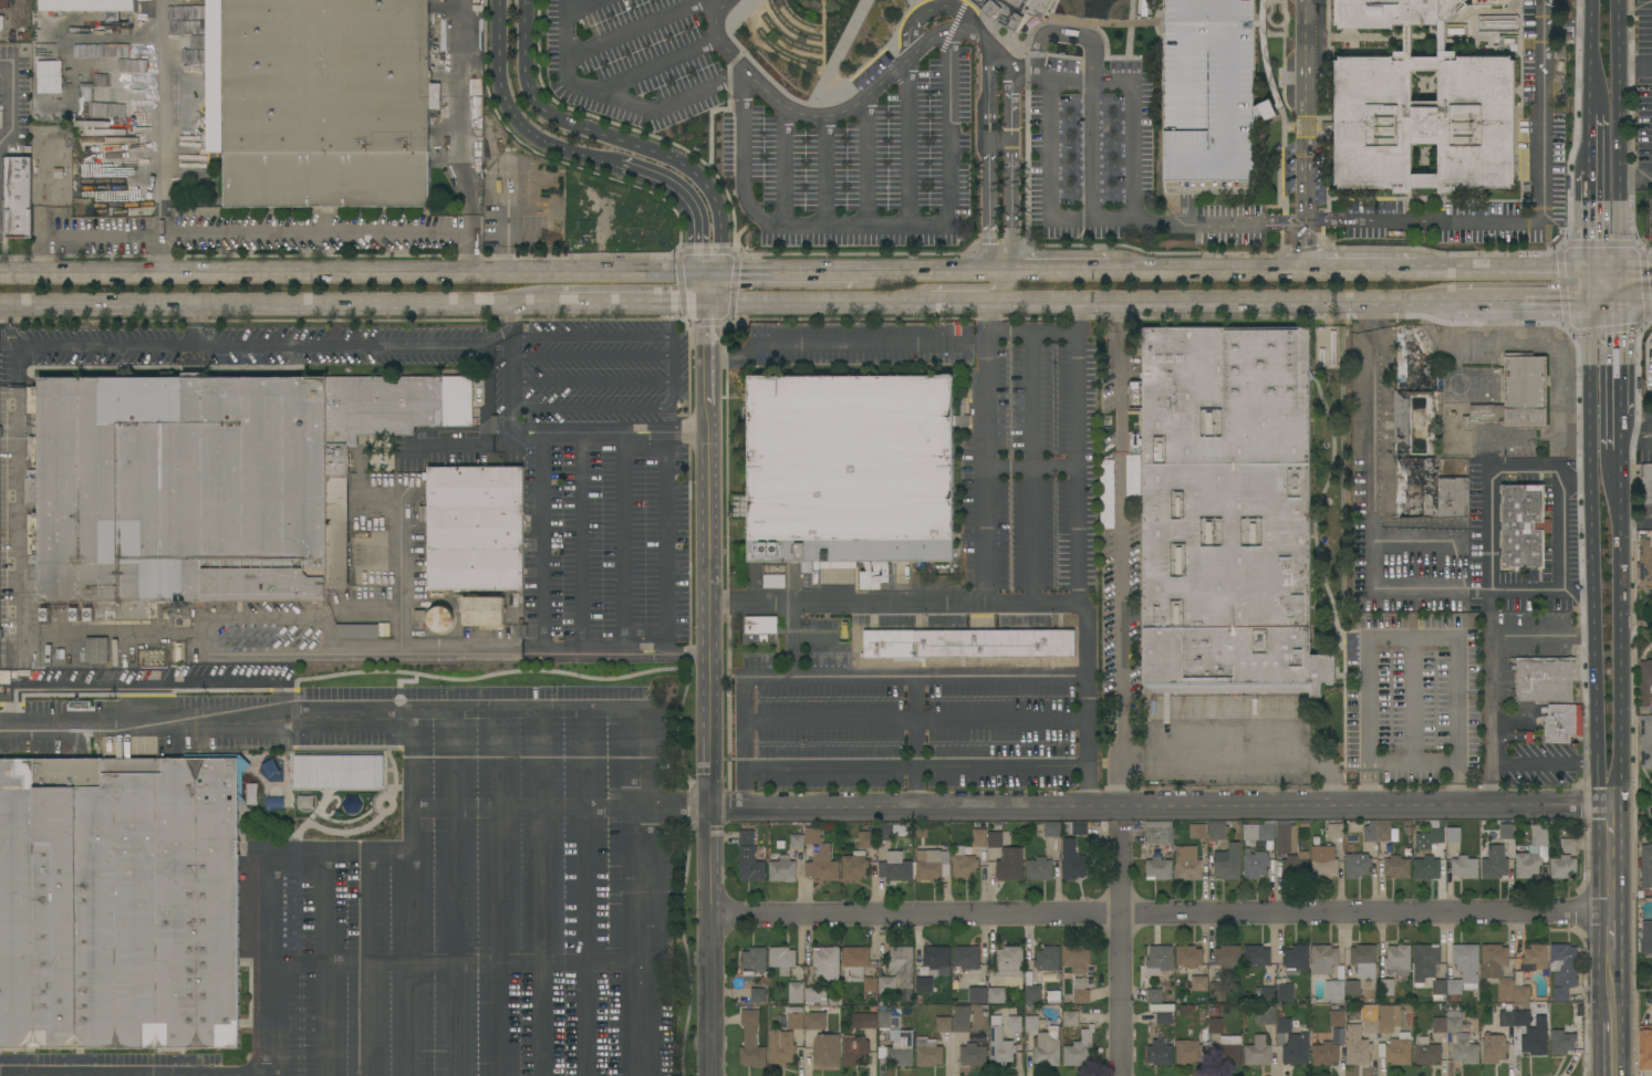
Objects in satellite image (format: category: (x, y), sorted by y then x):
building: (4, 3)
building: (86, 6)
road: (579, 7)
road: (928, 10)
building: (1016, 10)
road: (1546, 13)
building: (1, 22)
road: (1571, 27)
road: (1596, 27)
road: (632, 29)
road: (1076, 35)
building: (44, 62)
road: (656, 63)
road: (1036, 63)
road: (1634, 63)
road: (1027, 75)
building: (48, 81)
road: (1594, 83)
road: (11, 91)
building: (1213, 95)
parking lot: (1213, 95)
road: (617, 98)
building: (320, 101)
road: (1134, 104)
building: (1421, 106)
road: (1303, 111)
road: (833, 114)
road: (163, 116)
road: (459, 117)
road: (6, 135)
road: (1618, 135)
road: (1594, 139)
road: (907, 142)
road: (633, 144)
road: (1090, 147)
road: (590, 158)
road: (1009, 158)
road: (988, 163)
road: (864, 164)
road: (785, 167)
road: (824, 170)
road: (1545, 171)
road: (1635, 174)
road: (1047, 191)
building: (17, 197)
road: (1220, 220)
road: (1594, 220)
road: (1376, 221)
road: (870, 226)
road: (85, 233)
road: (279, 233)
road: (467, 240)
road: (1305, 246)
traffic signals: (699, 270)
traffic signals: (714, 270)
road: (792, 270)
road: (942, 270)
road: (1214, 270)
road: (1371, 270)
road: (1524, 270)
traffic signals: (1610, 270)
road: (1631, 270)
road: (1068, 271)
road: (356, 272)
road: (1610, 284)
road: (963, 286)
road: (1532, 299)
traffic signals: (1610, 299)
road: (1631, 299)
road: (1176, 301)
road: (630, 304)
road: (803, 304)
road: (280, 305)
traffic signals: (707, 305)
road: (3, 306)
road: (515, 314)
road: (980, 325)
road: (590, 335)
road: (674, 344)
road: (355, 345)
road: (104, 347)
building: (1327, 347)
road: (970, 349)
road: (590, 354)
road: (1610, 376)
road: (674, 380)
road: (591, 382)
building: (1133, 394)
building: (1516, 394)
road: (590, 407)
road: (1079, 418)
building: (1401, 425)
road: (644, 429)
road: (583, 431)
road: (686, 431)
road: (1631, 431)
road: (643, 433)
road: (464, 447)
road: (1031, 464)
road: (1030, 466)
building: (851, 470)
building: (207, 483)
building: (1646, 490)
road: (1487, 492)
road: (17, 500)
road: (1371, 503)
road: (1561, 509)
building: (1227, 512)
road: (1631, 523)
building: (1523, 526)
building: (474, 527)
parking lot: (603, 530)
road: (582, 540)
road: (623, 540)
road: (665, 542)
road: (1119, 554)
building: (1645, 562)
building: (773, 582)
building: (480, 609)
building: (418, 615)
road: (232, 617)
building: (440, 619)
road: (792, 621)
building: (760, 625)
road: (1611, 629)
building: (357, 630)
road: (1550, 634)
road: (1488, 636)
road: (1430, 637)
road: (792, 640)
building: (969, 643)
road: (527, 645)
road: (589, 647)
road: (646, 648)
building: (96, 649)
road: (685, 651)
road: (646, 654)
road: (690, 660)
road: (538, 670)
road: (891, 677)
building: (1544, 679)
road: (397, 681)
road: (142, 682)
building: (1644, 682)
road: (710, 690)
road: (1410, 699)
road: (527, 708)
road: (1079, 719)
road: (158, 722)
building: (1562, 722)
road: (912, 741)
building: (1646, 742)
road: (1247, 752)
road: (409, 758)
road: (1550, 762)
building: (270, 767)
building: (339, 771)
road: (994, 773)
building: (251, 793)
building: (289, 794)
building: (273, 802)
road: (675, 804)
road: (524, 806)
road: (915, 806)
road: (1365, 806)
building: (1406, 823)
building: (1074, 827)
building: (1051, 829)
building: (1407, 829)
building: (892, 830)
building: (919, 830)
building: (1039, 830)
building: (1197, 830)
building: (1217, 830)
building: (1259, 830)
building: (1334, 830)
building: (1506, 830)
building: (1159, 832)
building: (1379, 832)
building: (1453, 834)
building: (811, 835)
building: (1430, 836)
building: (979, 838)
building: (994, 838)
building: (1540, 838)
building: (867, 839)
building: (796, 842)
building: (779, 844)
building: (1568, 845)
building: (1338, 847)
building: (964, 849)
road: (336, 850)
building: (1290, 850)
building: (1406, 852)
building: (749, 859)
building: (1073, 861)
building: (1227, 861)
building: (1494, 861)
building: (799, 863)
building: (1187, 863)
building: (1256, 863)
building: (1323, 863)
building: (1009, 864)
building: (822, 865)
building: (932, 865)
building: (1357, 865)
building: (1527, 865)
building: (854, 866)
building: (1646, 866)
building: (895, 867)
building: (964, 867)
building: (1464, 867)
building: (1562, 867)
building: (1157, 868)
building: (1396, 868)
building: (1426, 868)
building: (782, 869)
building: (1039, 869)
parking lot: (334, 881)
road: (453, 891)
road: (498, 891)
road: (541, 891)
road: (588, 891)
building: (120, 902)
road: (1612, 903)
road: (1161, 909)
building: (1645, 938)
road: (409, 940)
road: (641, 940)
road: (1120, 953)
building: (1188, 955)
building: (1227, 955)
building: (1256, 955)
building: (1535, 957)
building: (1076, 958)
building: (781, 959)
building: (936, 959)
building: (1047, 959)
building: (1296, 959)
building: (1322, 959)
building: (1398, 959)
building: (854, 960)
building: (965, 960)
building: (1160, 960)
building: (1364, 960)
building: (1494, 960)
road: (364, 962)
building: (752, 962)
building: (825, 962)
road: (264, 963)
road: (319, 963)
building: (1466, 963)
road: (453, 964)
building: (1010, 967)
building: (1562, 969)
building: (902, 970)
building: (1427, 970)
building: (1545, 973)
building: (1049, 975)
building: (1518, 978)
building: (1199, 983)
building: (923, 985)
building: (886, 986)
building: (1454, 986)
building: (1352, 988)
building: (1385, 988)
building: (870, 989)
building: (1506, 990)
building: (1080, 991)
building: (1333, 991)
building: (796, 992)
building: (1032, 992)
building: (1215, 992)
building: (1285, 992)
building: (1268, 993)
building: (1521, 993)
building: (757, 995)
building: (977, 995)
building: (996, 995)
building: (1153, 995)
building: (814, 996)
building: (1453, 999)
building: (1162, 1006)
building: (1407, 1006)
building: (1183, 1007)
building: (1192, 1007)
building: (1177, 1011)
building: (1266, 1015)
building: (794, 1017)
building: (1164, 1017)
building: (1388, 1017)
building: (1521, 1017)
building: (1070, 1018)
building: (1337, 1018)
building: (1506, 1018)
building: (814, 1020)
building: (867, 1021)
building: (887, 1021)
building: (1031, 1023)
building: (1295, 1023)
building: (1370, 1023)
building: (1447, 1023)
building: (943, 1024)
building: (960, 1024)
building: (1015, 1024)
building: (1215, 1025)
building: (1284, 1025)
building: (1338, 1035)
building: (1280, 1038)
building: (1535, 1040)
road: (1611, 1040)
building: (750, 1041)
building: (1561, 1042)
building: (999, 1047)
building: (1048, 1047)
building: (1645, 1047)
building: (780, 1048)
building: (900, 1048)
building: (1079, 1048)
building: (1357, 1048)
building: (1493, 1048)
building: (1297, 1049)
building: (1399, 1049)
building: (825, 1051)
building: (854, 1051)
building: (1227, 1051)
building: (1464, 1051)
building: (927, 1052)
building: (1187, 1052)
building: (1257, 1052)
building: (1425, 1052)
building: (1160, 1053)
building: (1324, 1054)
building: (973, 1055)

